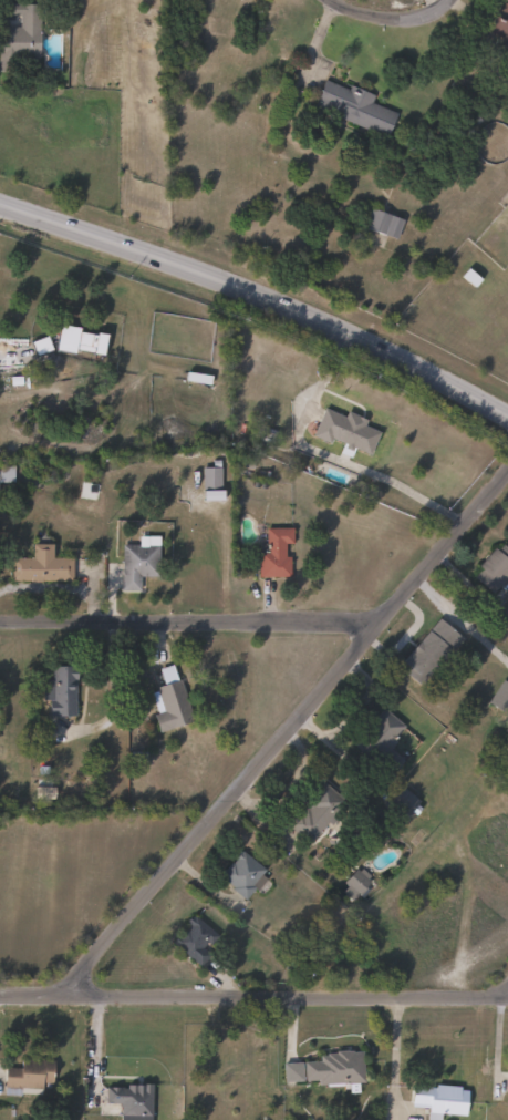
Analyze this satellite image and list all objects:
road: (386, 6)
building: (499, 23)
building: (21, 41)
building: (352, 106)
building: (381, 224)
road: (260, 292)
building: (86, 338)
building: (46, 343)
road: (2, 351)
building: (343, 431)
building: (261, 433)
road: (324, 454)
building: (9, 472)
building: (209, 476)
building: (272, 554)
building: (136, 563)
building: (46, 564)
building: (493, 568)
road: (188, 618)
building: (428, 653)
building: (66, 690)
building: (499, 696)
building: (174, 700)
building: (0, 725)
road: (281, 729)
building: (377, 740)
building: (46, 791)
building: (404, 799)
building: (314, 812)
building: (241, 873)
building: (353, 882)
building: (193, 939)
road: (504, 990)
road: (253, 994)
road: (395, 1058)
building: (333, 1067)
building: (32, 1076)
building: (438, 1098)
building: (128, 1099)
building: (507, 1100)

